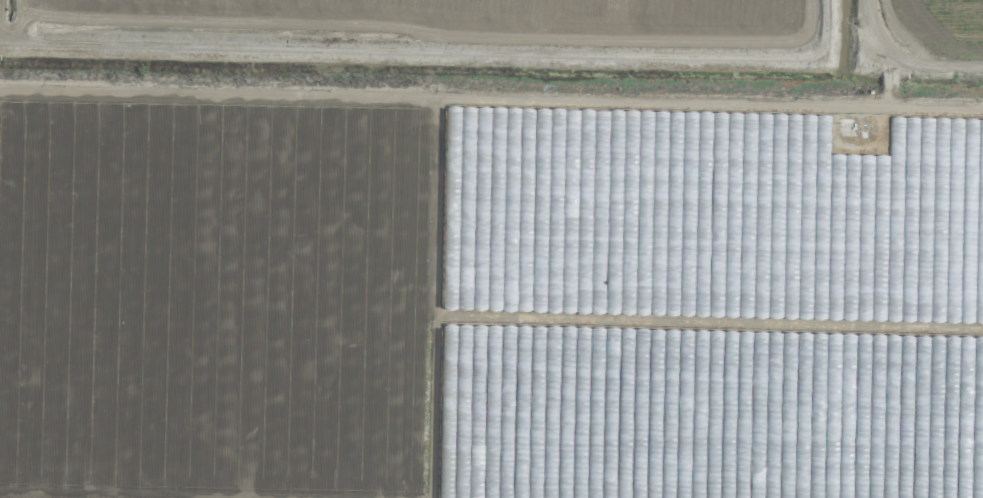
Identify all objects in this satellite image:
crop: (516, 34)
road: (491, 103)
crop: (488, 305)

